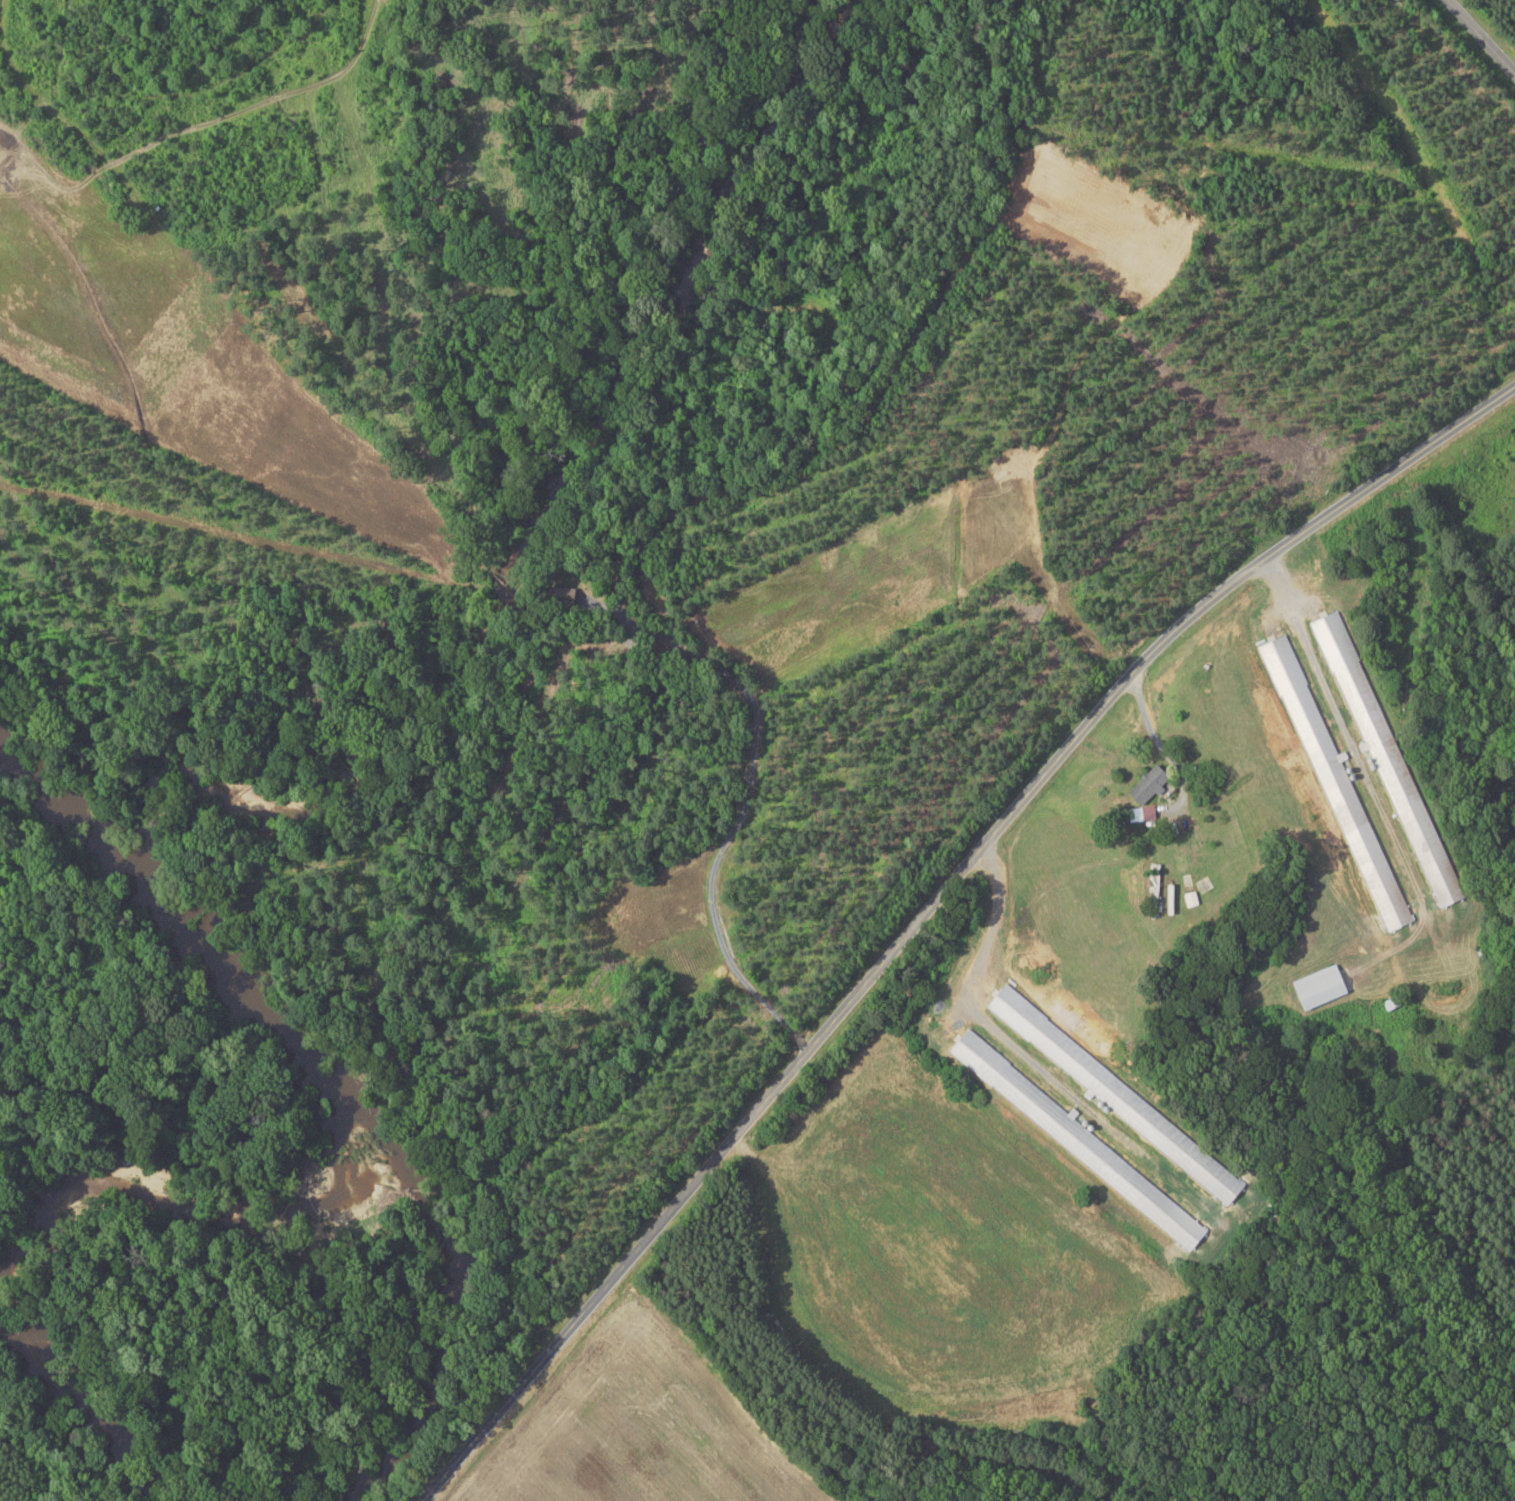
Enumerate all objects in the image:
road: (1482, 34)
building: (1330, 643)
river: (56, 783)
building: (1144, 785)
building: (1414, 817)
road: (931, 901)
river: (228, 955)
building: (1314, 987)
building: (972, 1053)
river: (184, 1170)
building: (1175, 1233)

